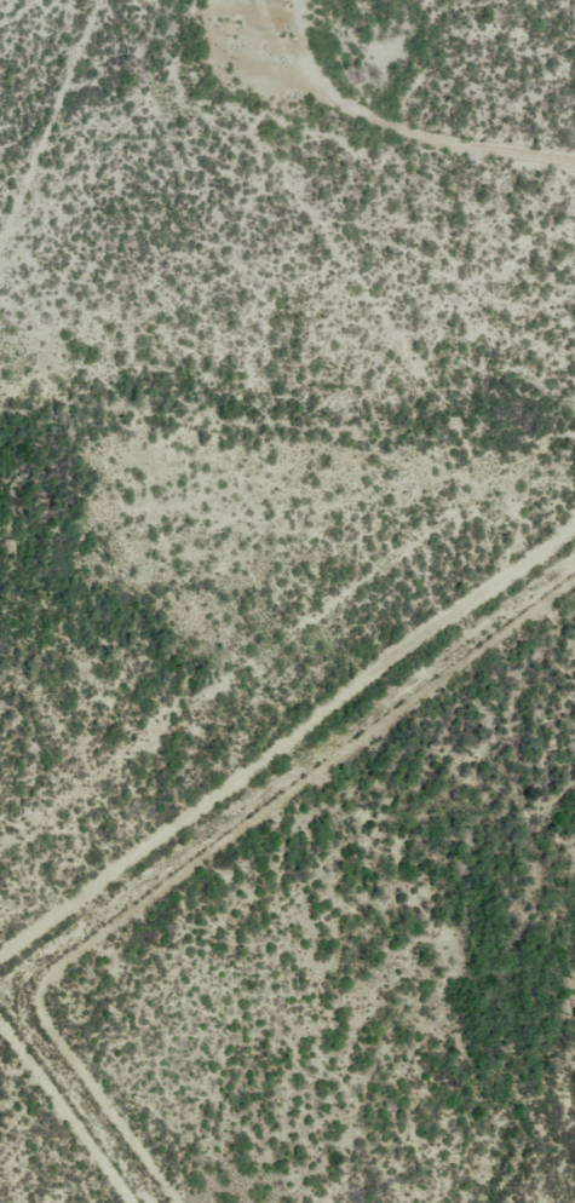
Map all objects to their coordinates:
road: (59, 156)
road: (287, 736)

